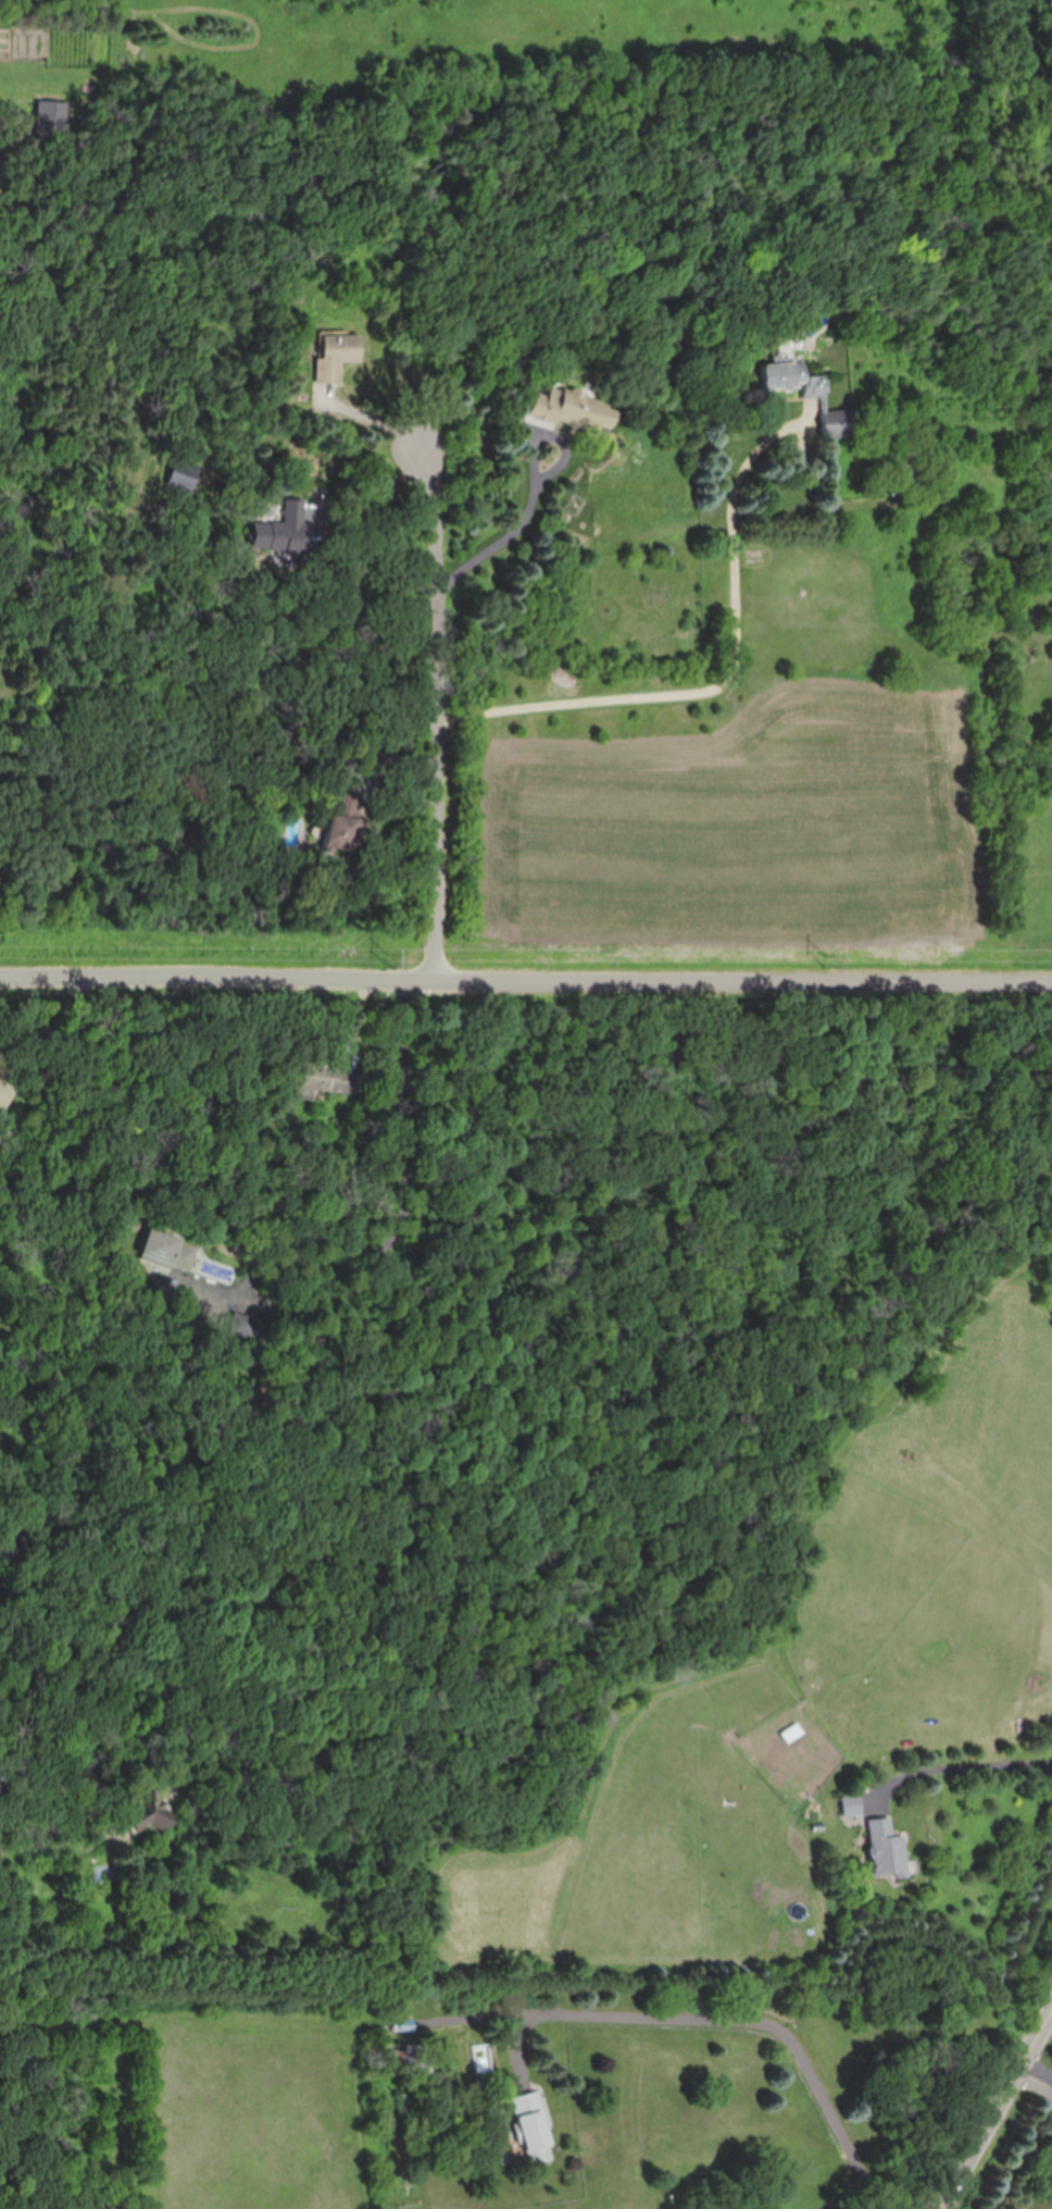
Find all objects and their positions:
building: (335, 353)
building: (788, 377)
building: (575, 409)
road: (372, 419)
building: (839, 421)
road: (543, 443)
building: (905, 467)
building: (286, 532)
road: (500, 545)
road: (732, 683)
road: (438, 712)
building: (379, 765)
building: (340, 824)
power tower: (827, 959)
power tower: (392, 960)
road: (525, 979)
building: (329, 1077)
building: (3, 1093)
road: (404, 1180)
building: (167, 1250)
building: (25, 1542)
building: (2, 1549)
road: (963, 1772)
road: (39, 1798)
building: (853, 1803)
building: (155, 1819)
building: (888, 1848)
road: (750, 2015)
building: (403, 2024)
building: (410, 2060)
building: (483, 2061)
road: (1038, 2077)
road: (1048, 2080)
road: (993, 2113)
building: (533, 2127)

